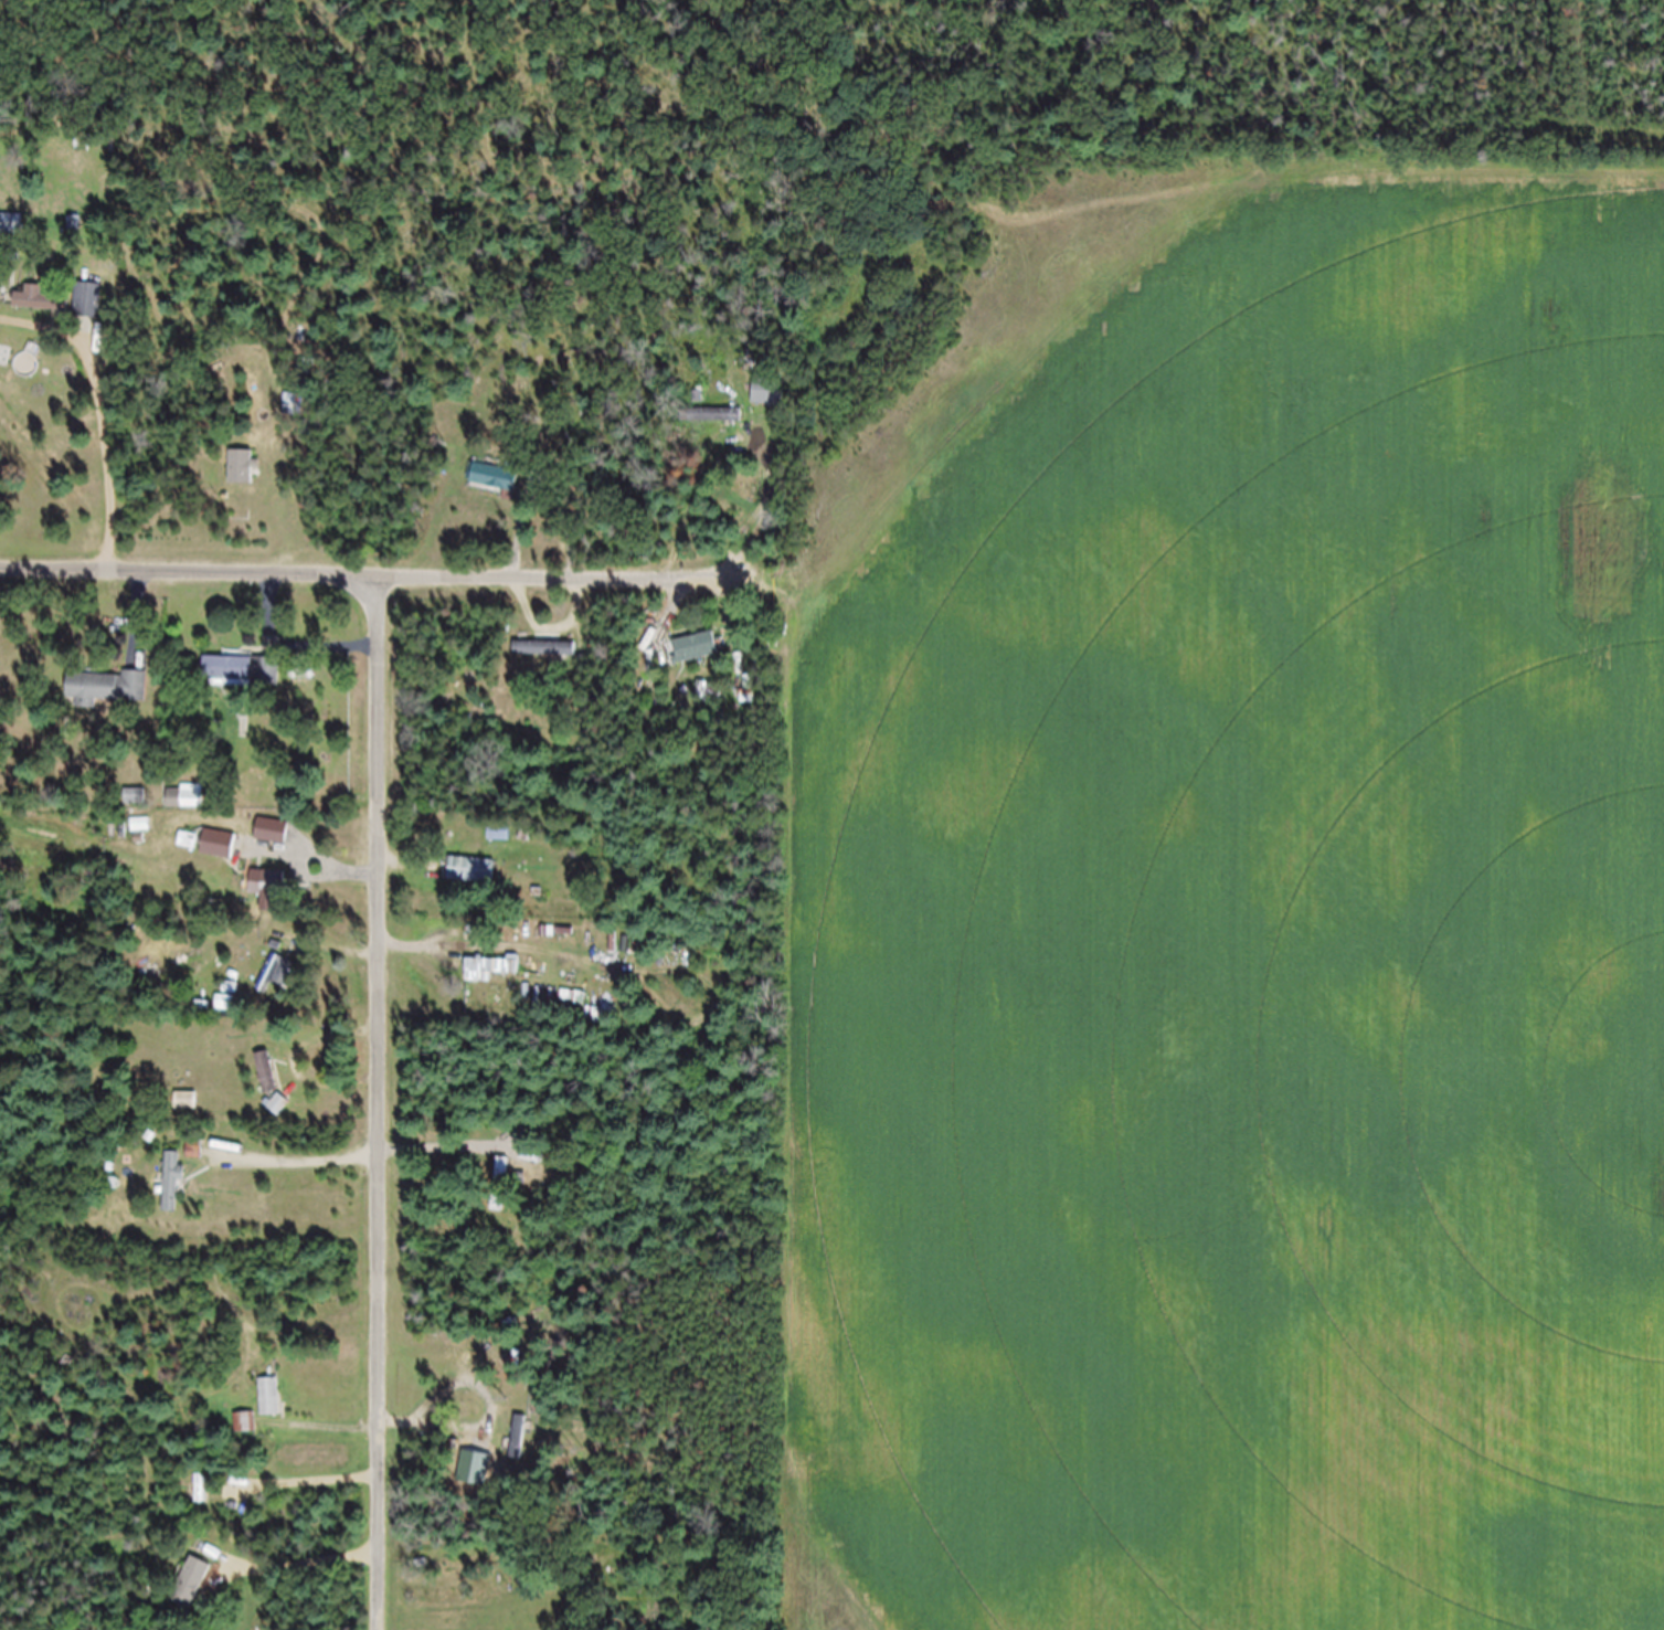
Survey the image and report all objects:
building: (11, 234)
building: (34, 310)
building: (88, 311)
building: (769, 403)
building: (710, 426)
building: (242, 477)
building: (492, 487)
road: (371, 588)
building: (696, 657)
building: (543, 658)
building: (242, 681)
building: (107, 698)
building: (186, 807)
building: (272, 842)
building: (219, 855)
building: (470, 881)
building: (267, 900)
building: (489, 978)
building: (267, 991)
building: (224, 1014)
building: (263, 1070)
road: (379, 1109)
building: (277, 1116)
road: (301, 1157)
building: (504, 1181)
building: (170, 1193)
building: (499, 1214)
building: (269, 1407)
building: (242, 1433)
road: (306, 1575)
building: (191, 1594)

